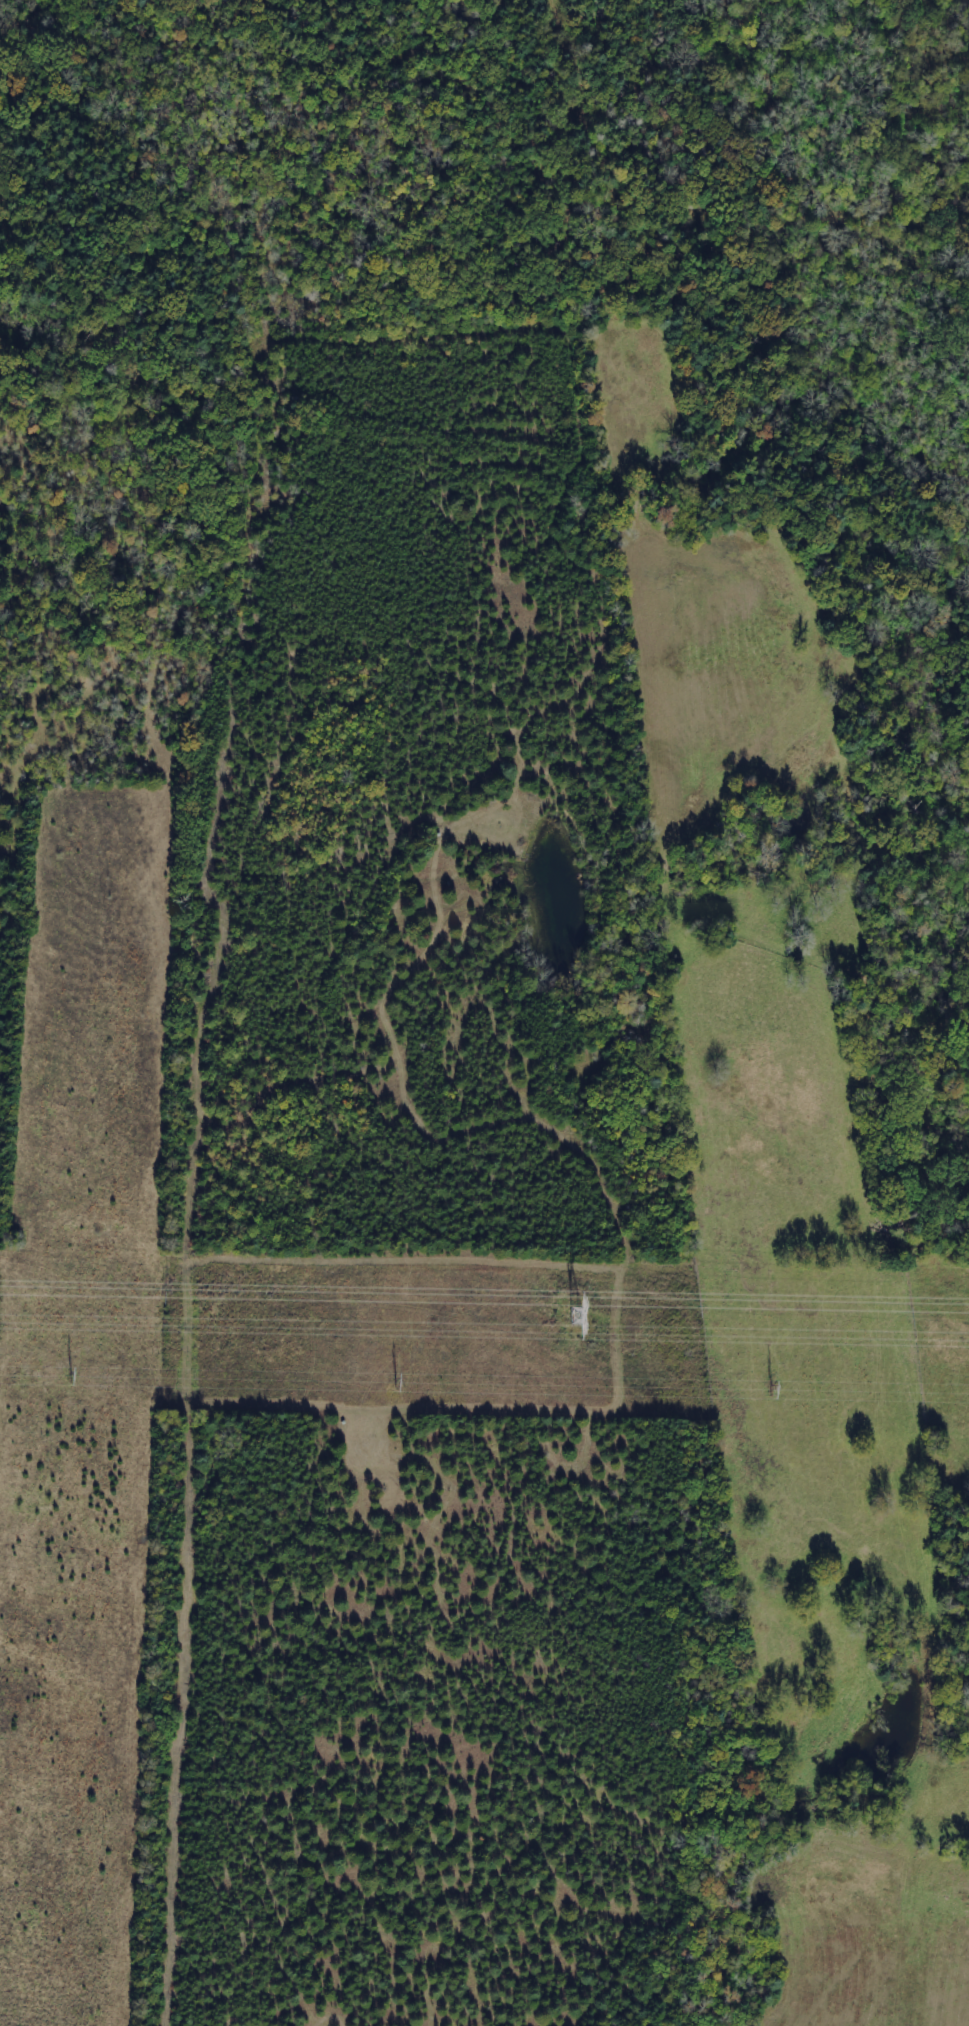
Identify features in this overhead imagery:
power tower: (578, 1317)
road: (910, 1965)

